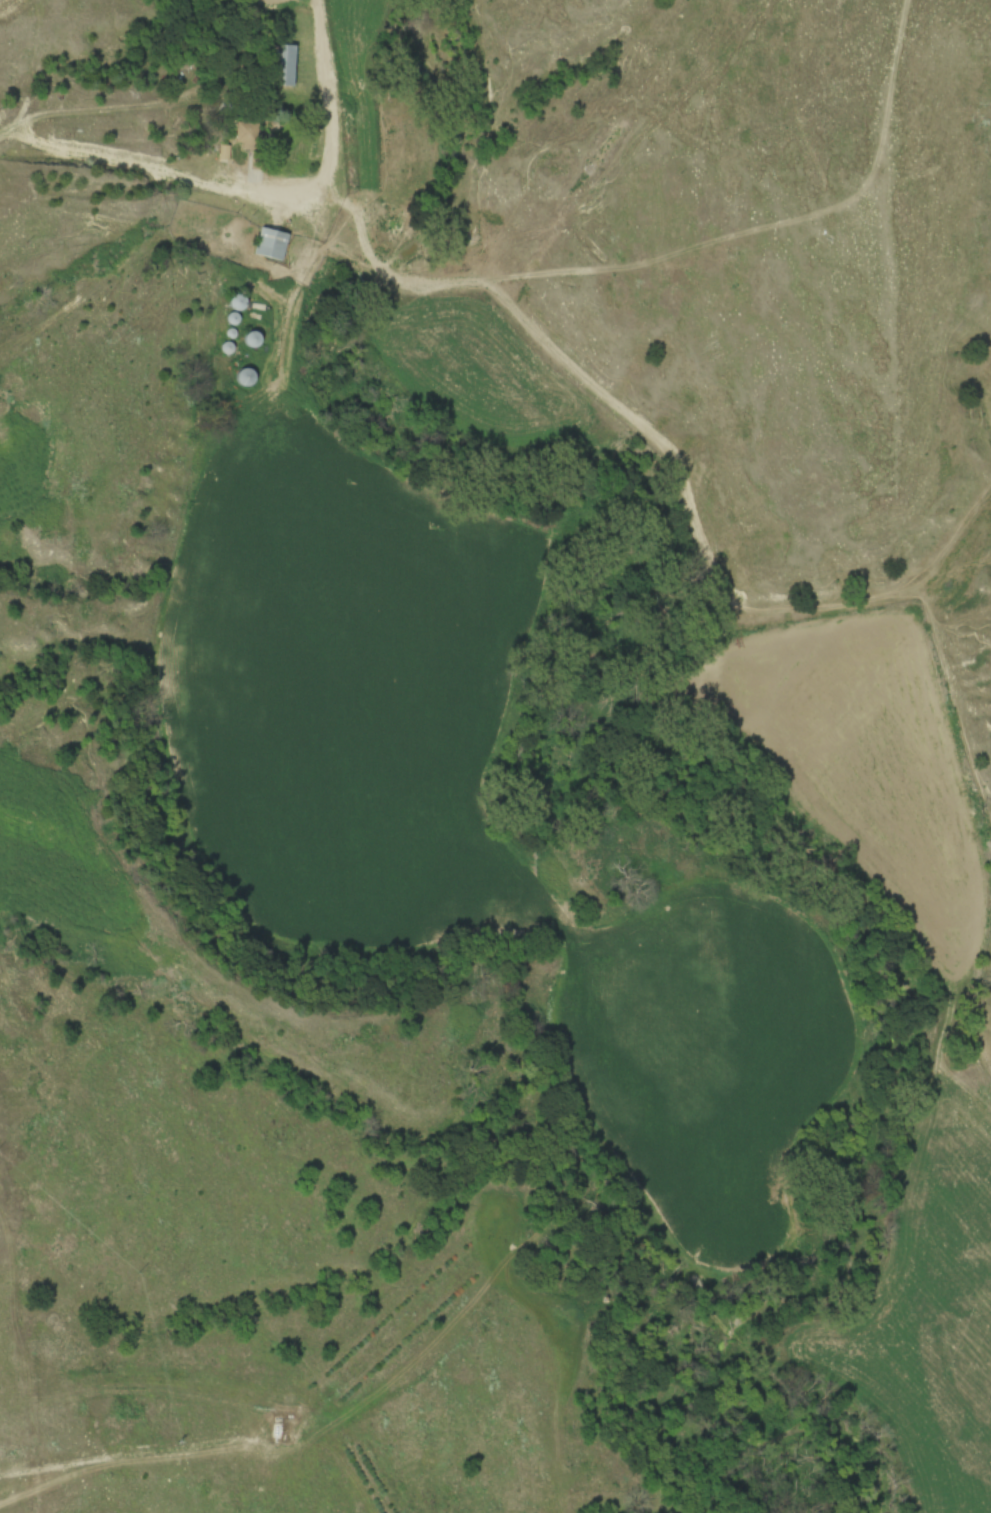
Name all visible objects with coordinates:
building: (282, 65)
building: (245, 135)
building: (270, 245)
building: (236, 303)
building: (244, 378)

